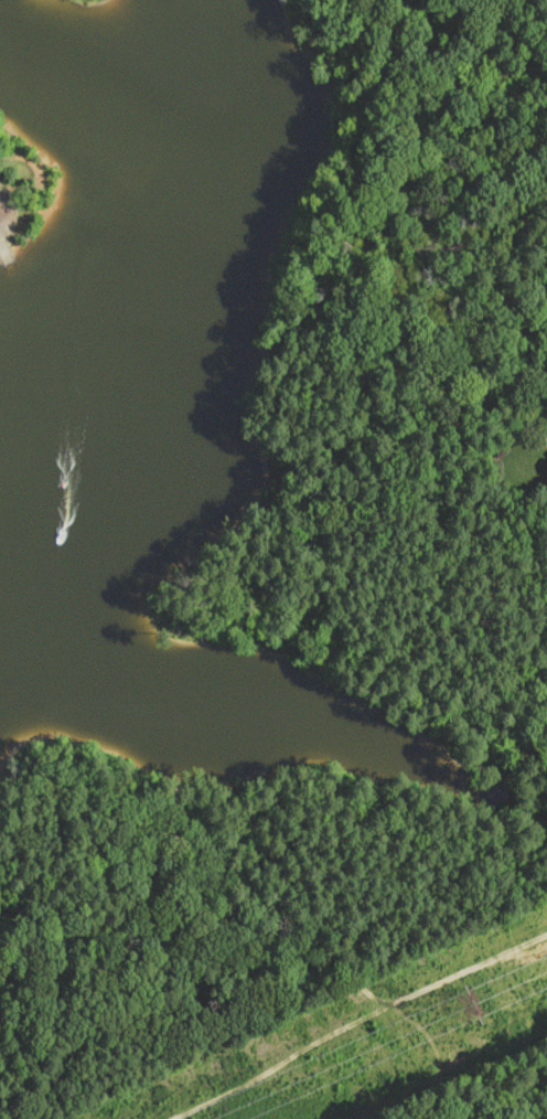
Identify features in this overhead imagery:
park: (77, 10)
park: (29, 193)
power tower: (476, 1001)

